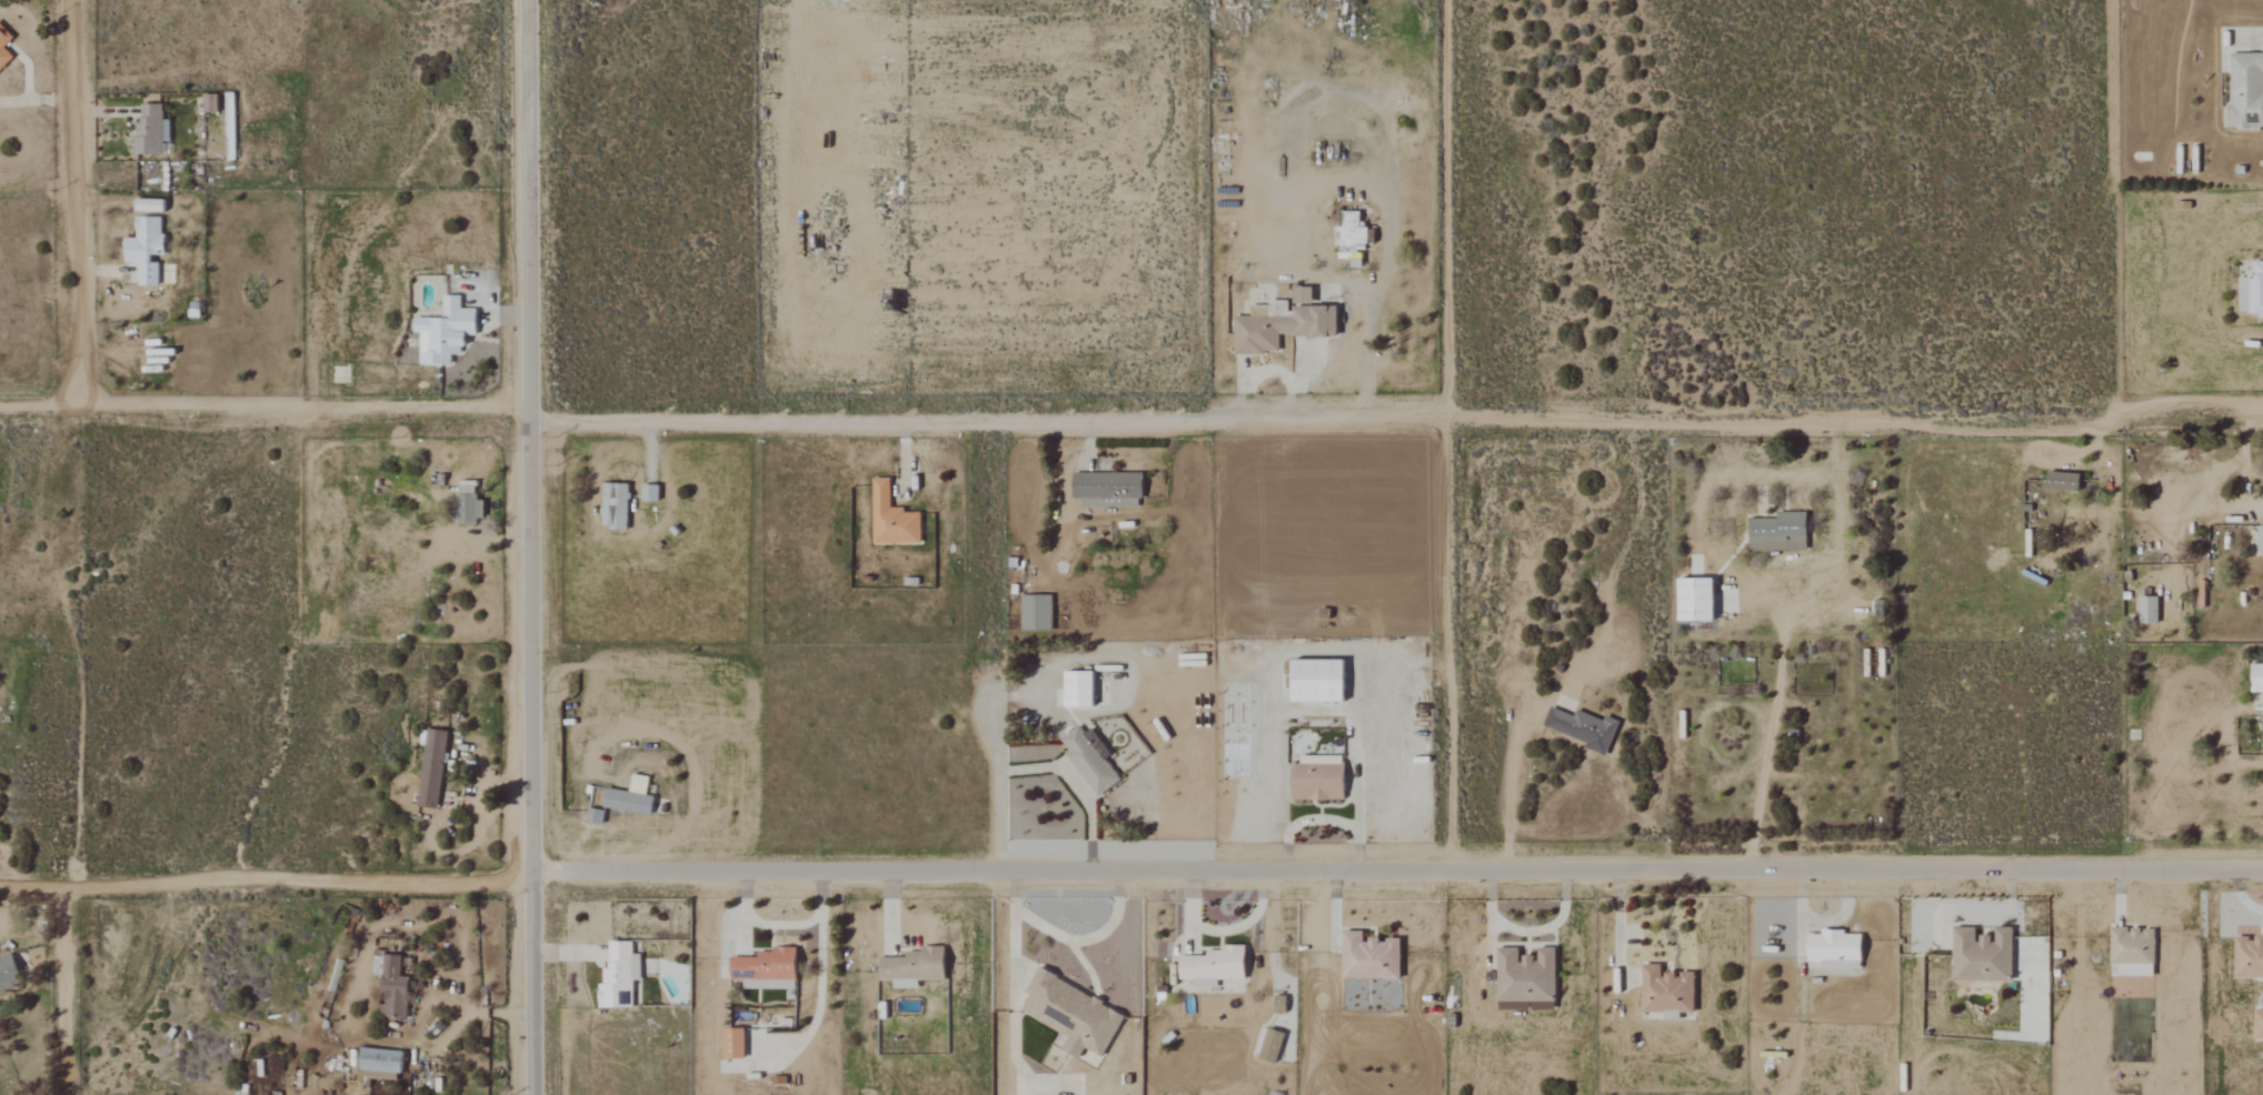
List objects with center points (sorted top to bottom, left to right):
road: (2251, 42)
building: (4, 49)
building: (2243, 91)
road: (33, 101)
building: (211, 102)
building: (231, 129)
building: (152, 131)
building: (153, 205)
building: (148, 249)
road: (1383, 260)
building: (2250, 292)
building: (1278, 328)
building: (449, 332)
road: (267, 410)
road: (1399, 415)
road: (1439, 434)
road: (74, 441)
road: (2223, 472)
building: (2057, 481)
building: (470, 502)
road: (2251, 514)
building: (888, 519)
building: (1775, 533)
building: (2257, 540)
road: (531, 546)
building: (1691, 601)
building: (2145, 611)
building: (1033, 613)
building: (2254, 679)
building: (1312, 682)
building: (1074, 690)
building: (2262, 716)
road: (1769, 724)
building: (1579, 729)
building: (1087, 760)
building: (435, 768)
road: (995, 774)
building: (1314, 778)
road: (1076, 785)
road: (1507, 797)
building: (625, 802)
road: (1355, 816)
road: (1299, 822)
road: (1396, 870)
road: (265, 880)
road: (2239, 897)
road: (1822, 922)
road: (1621, 925)
road: (1015, 935)
road: (1088, 940)
building: (1832, 950)
building: (2129, 952)
building: (1978, 955)
building: (2246, 956)
building: (771, 964)
building: (917, 967)
building: (10, 973)
building: (622, 975)
building: (1523, 978)
building: (395, 985)
road: (67, 989)
building: (1663, 991)
road: (361, 994)
building: (1066, 1009)
building: (2256, 1024)
road: (440, 1043)
building: (737, 1043)

